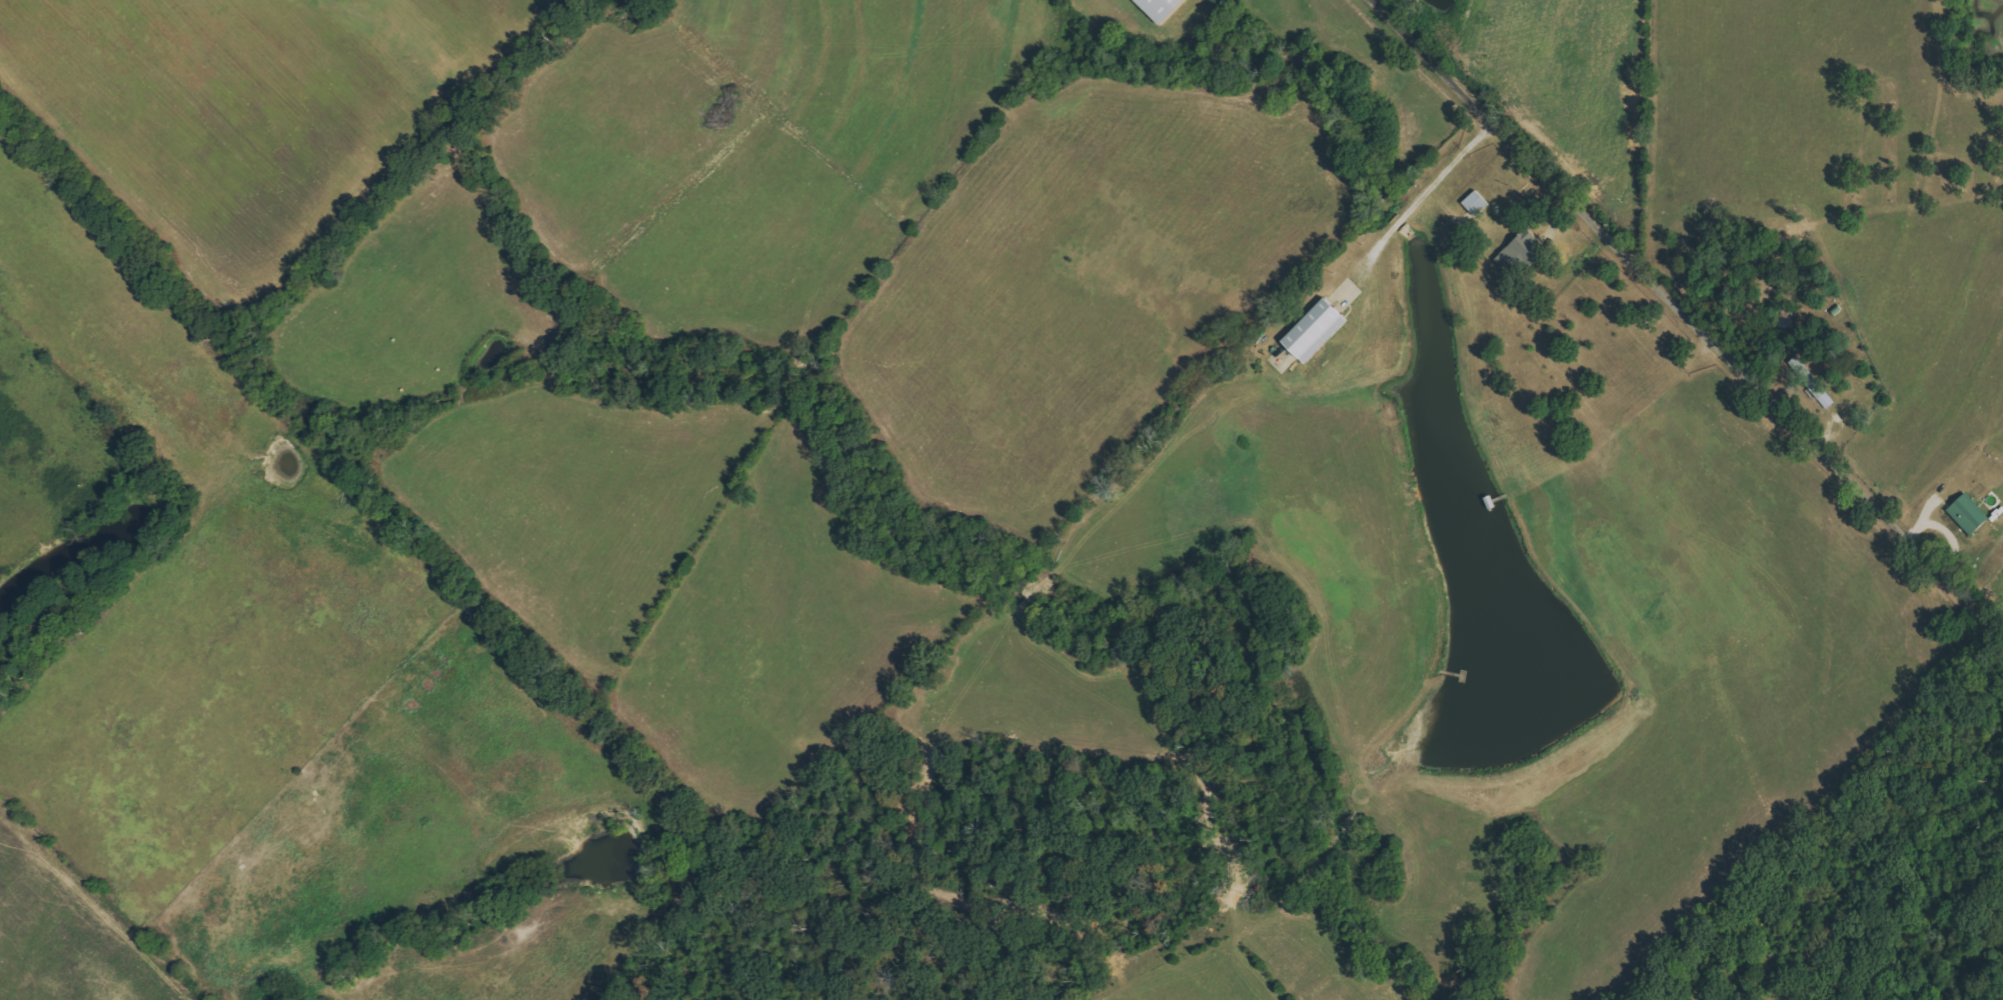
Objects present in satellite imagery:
building: (1165, 8)
road: (1412, 202)
building: (1478, 203)
building: (1523, 252)
road: (1686, 321)
building: (1320, 329)
building: (1971, 514)

